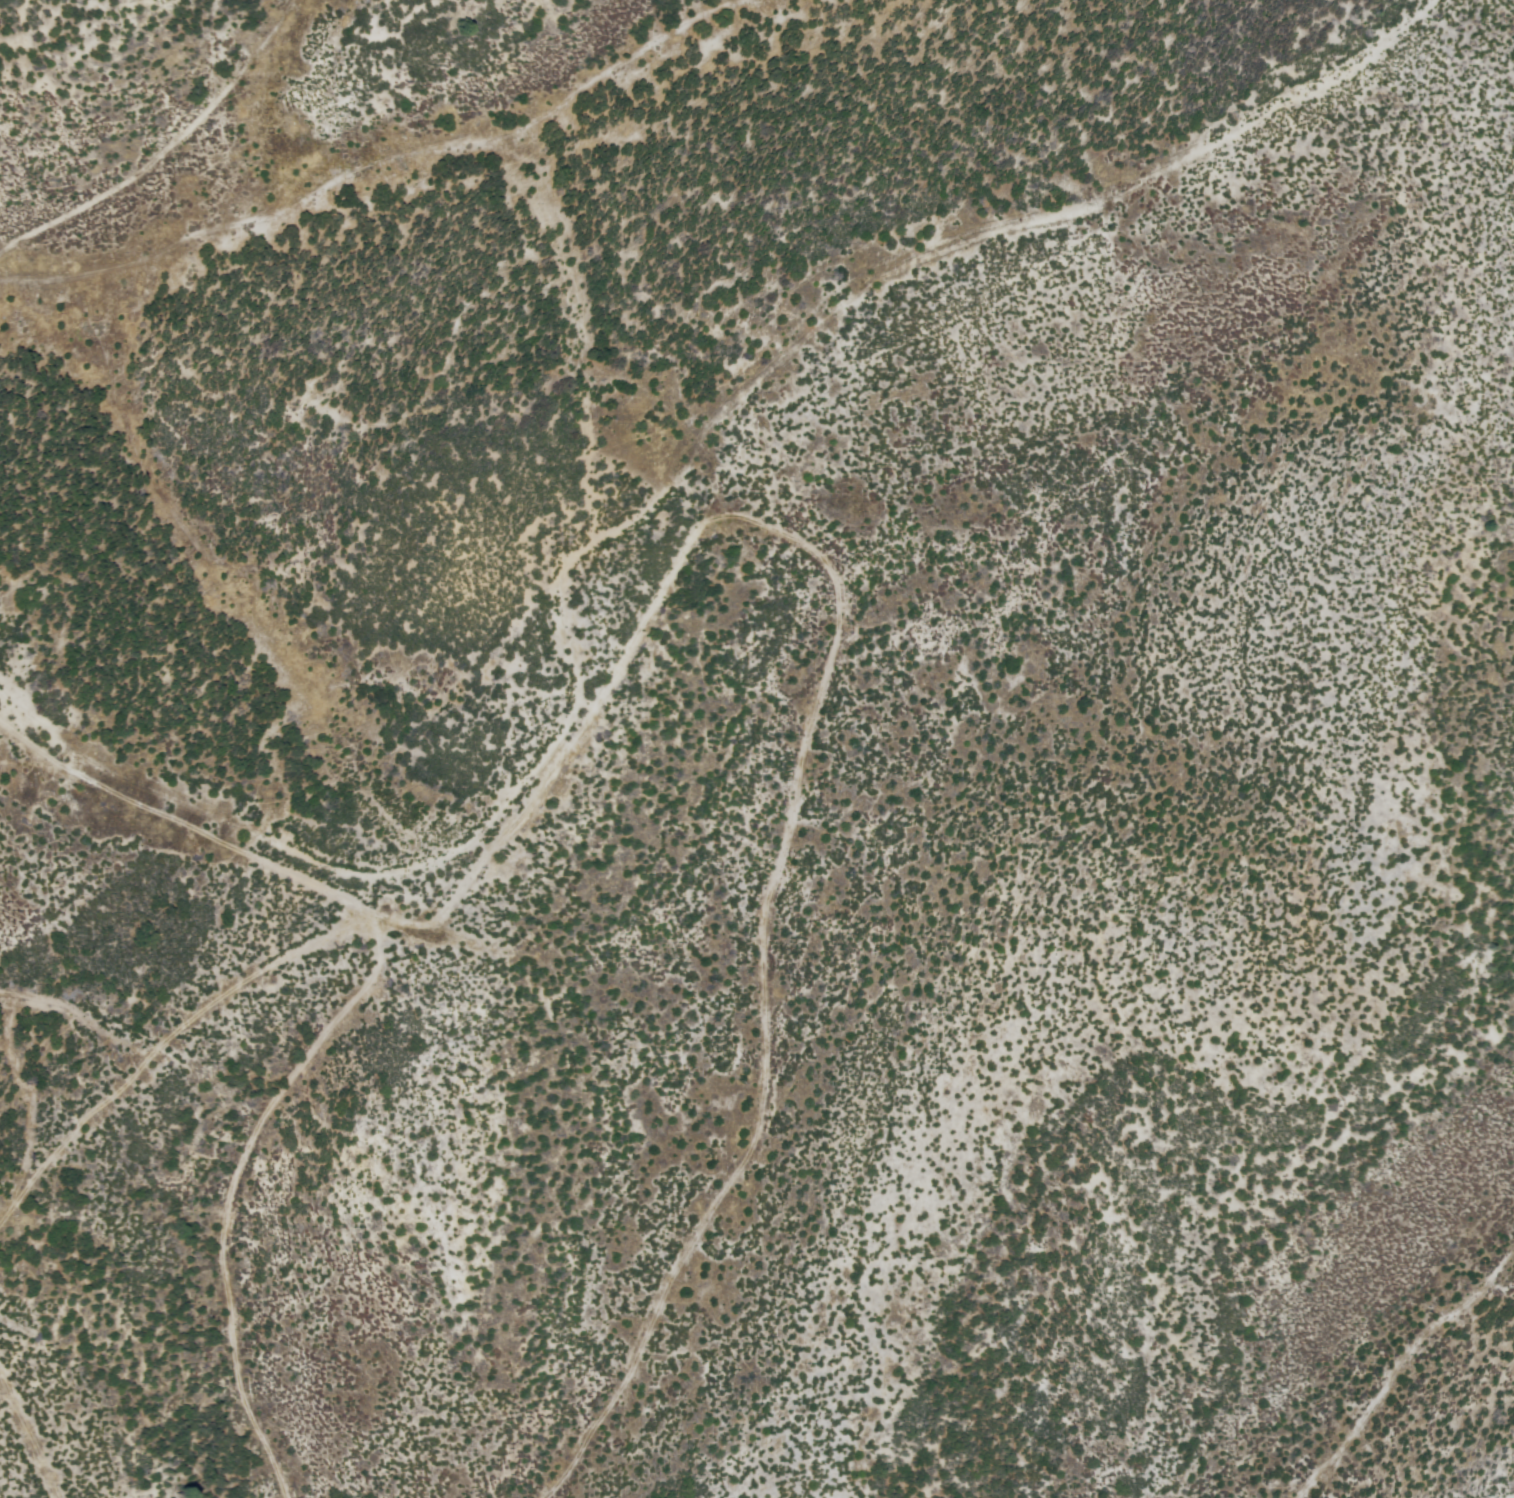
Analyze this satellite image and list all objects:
road: (722, 410)

